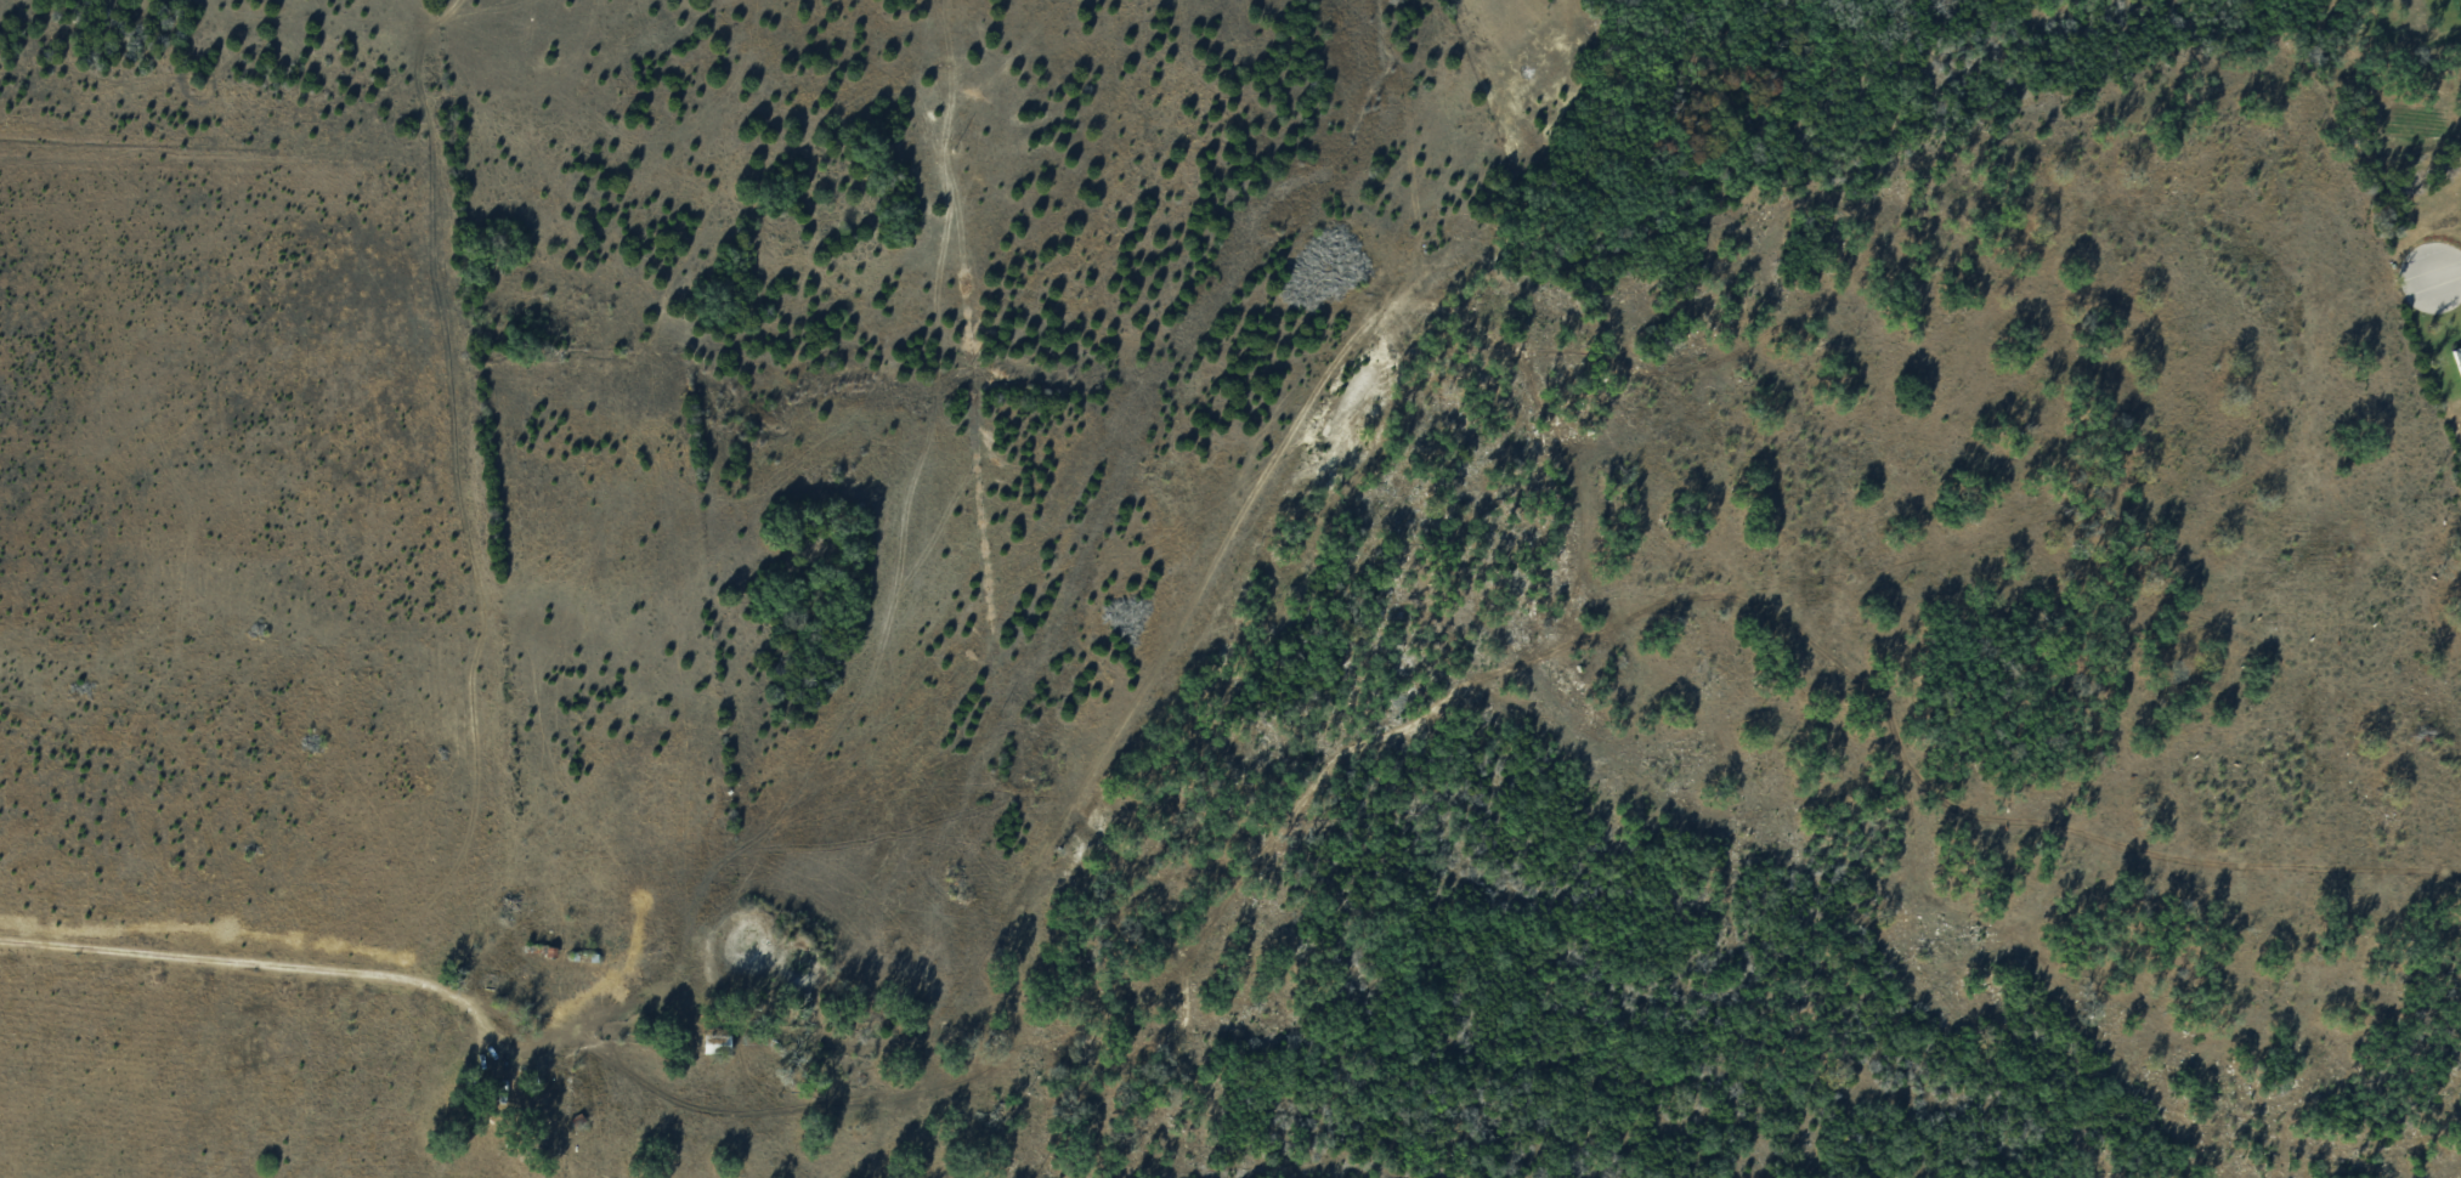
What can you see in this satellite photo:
road: (2450, 265)
building: (2457, 356)
road: (254, 962)

